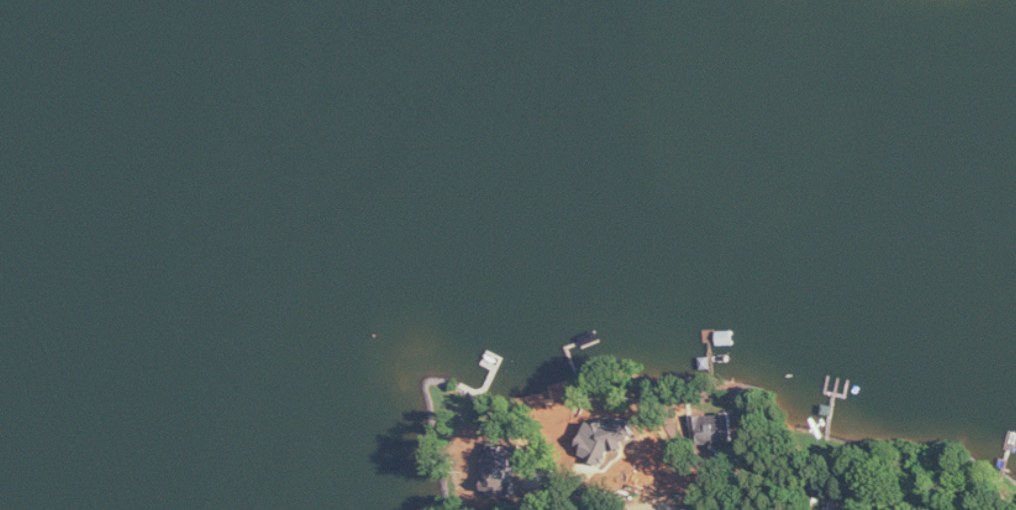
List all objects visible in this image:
building: (508, 467)
building: (847, 507)
building: (824, 509)

